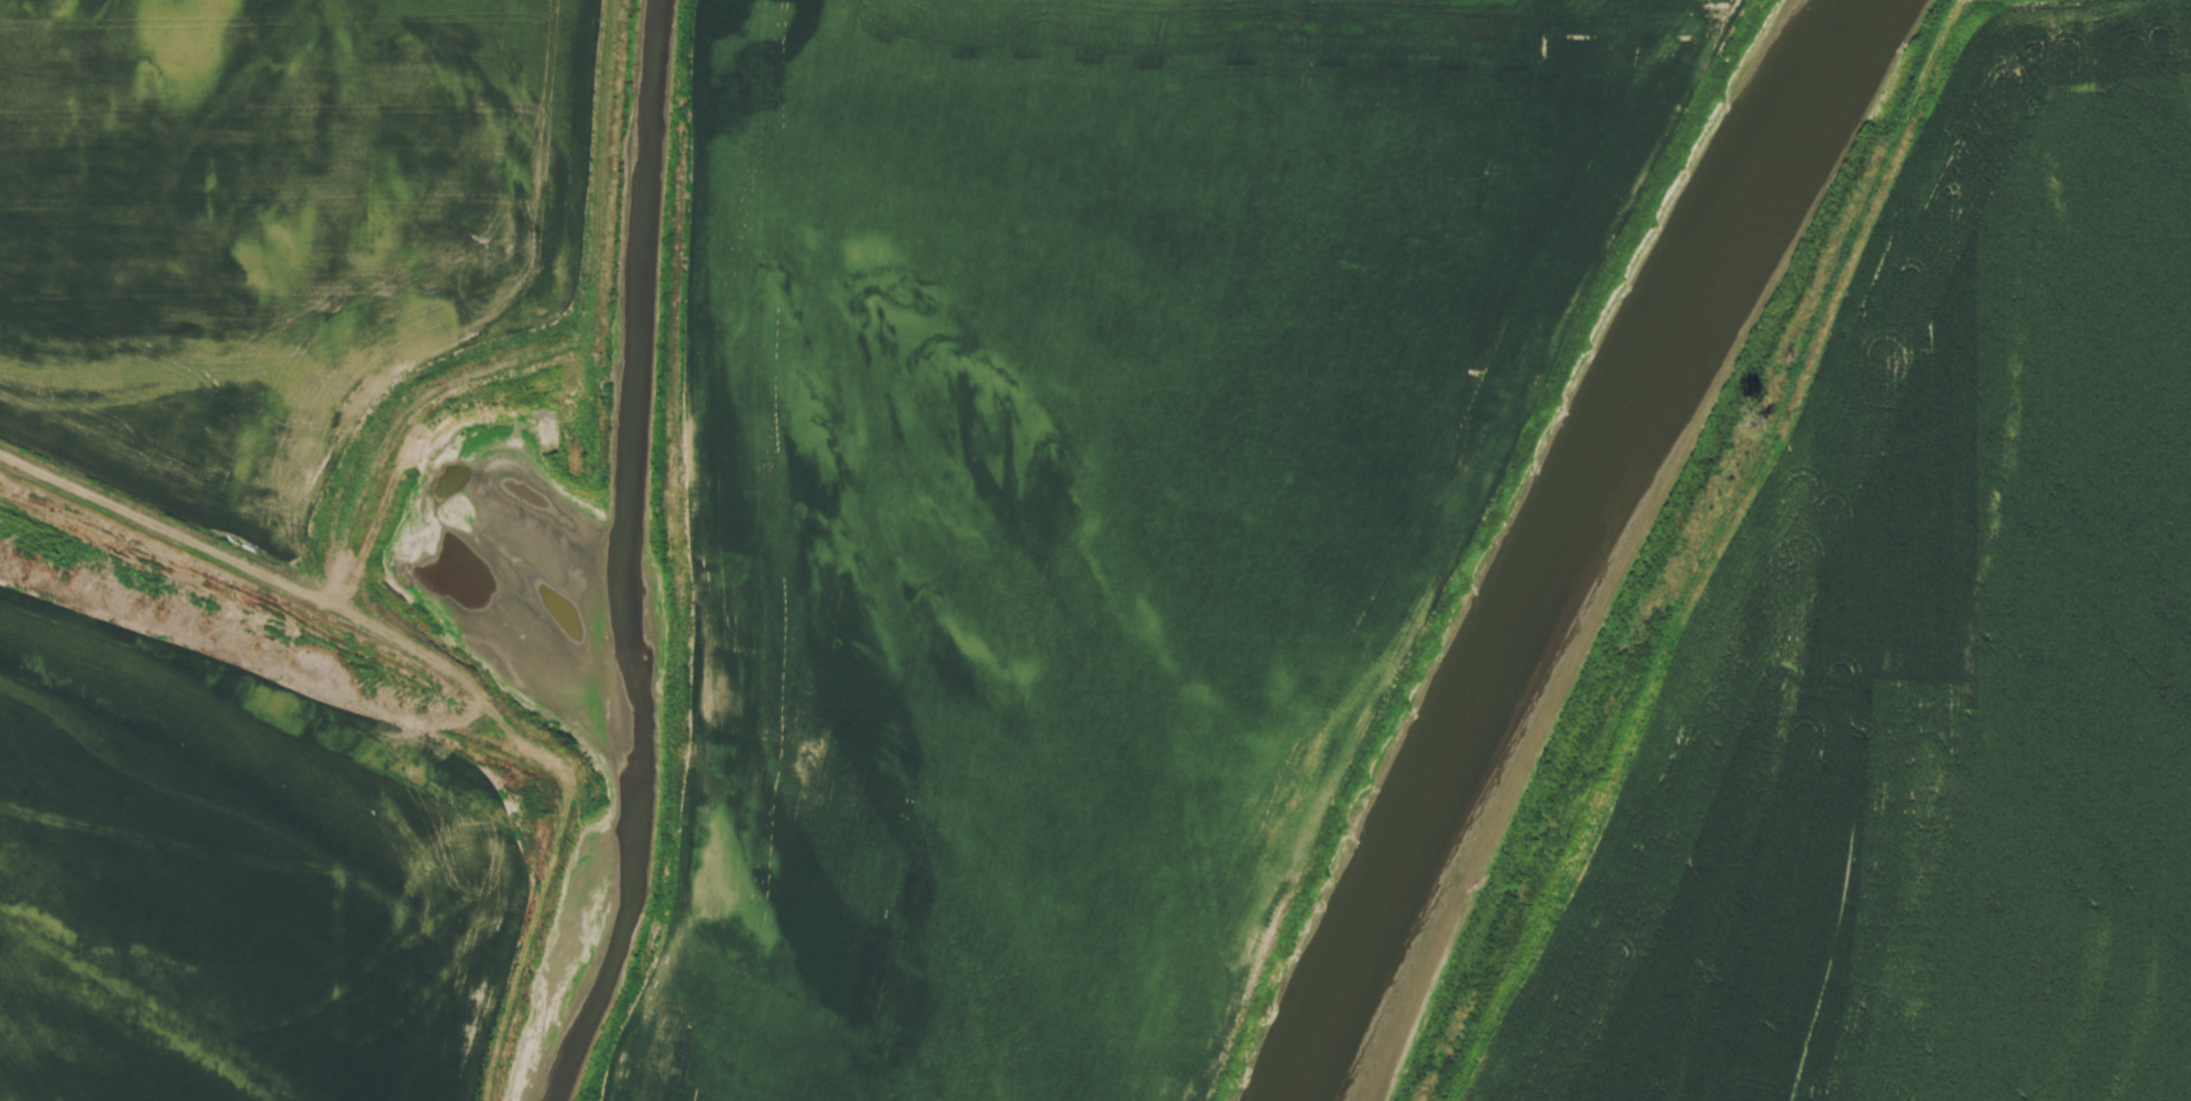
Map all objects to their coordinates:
river: (1598, 543)

